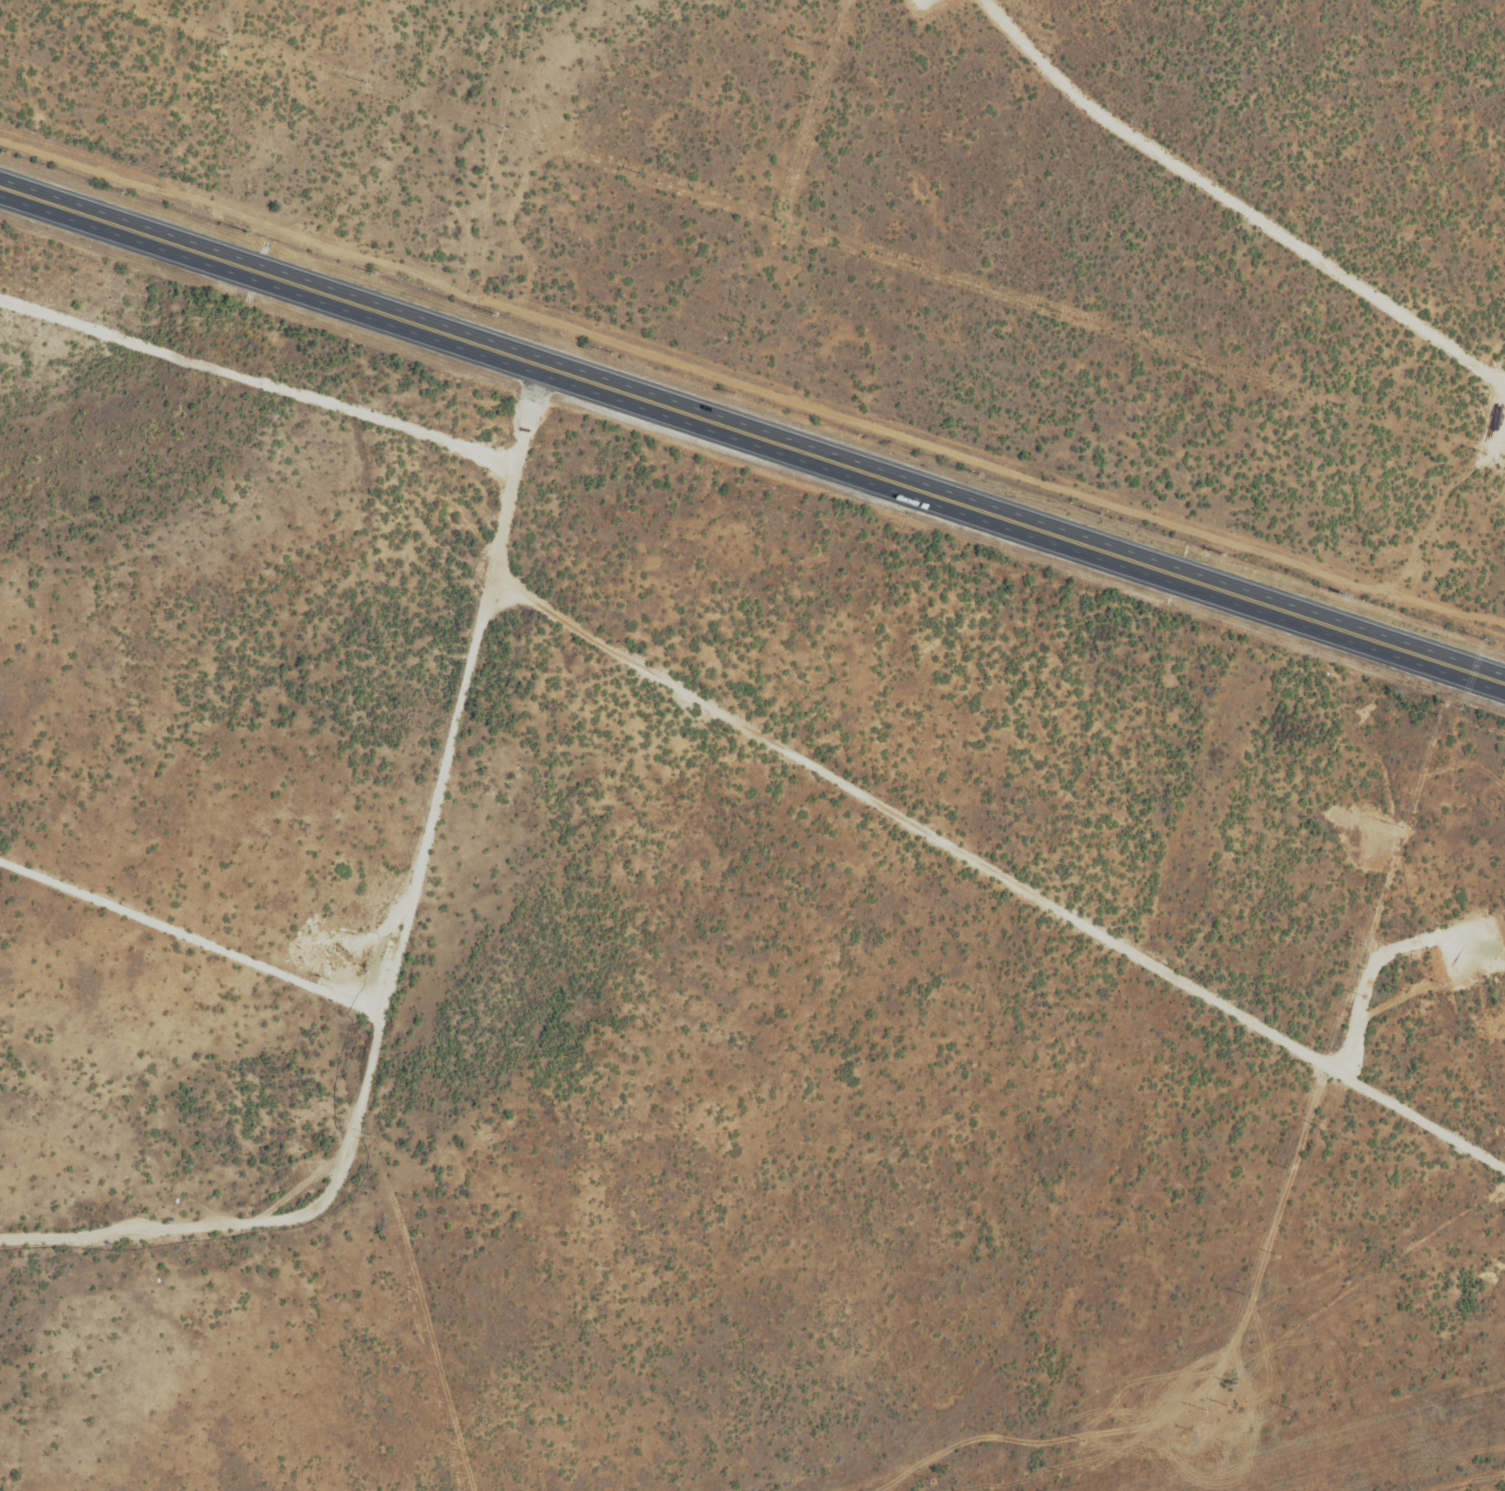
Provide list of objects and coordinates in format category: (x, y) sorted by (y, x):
river: (388, 144)
river: (257, 272)
road: (752, 439)

